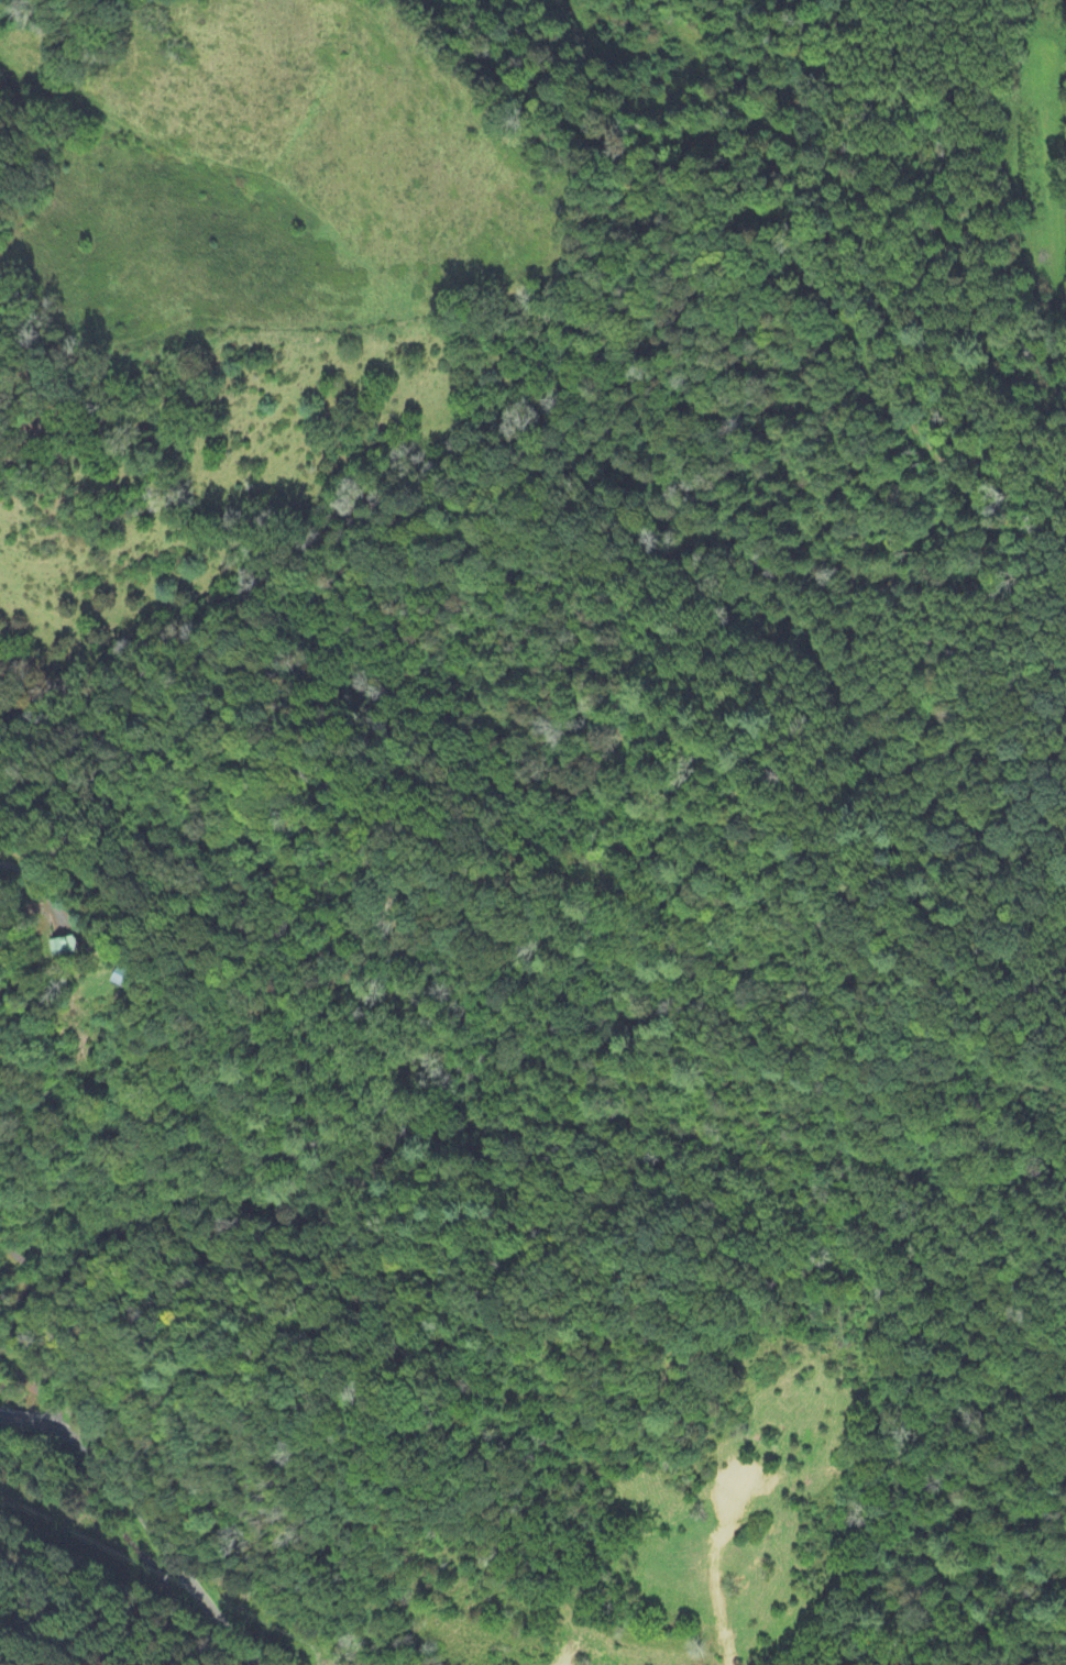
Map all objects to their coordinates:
building: (56, 945)
road: (2, 1414)
road: (26, 1419)
road: (160, 1534)

